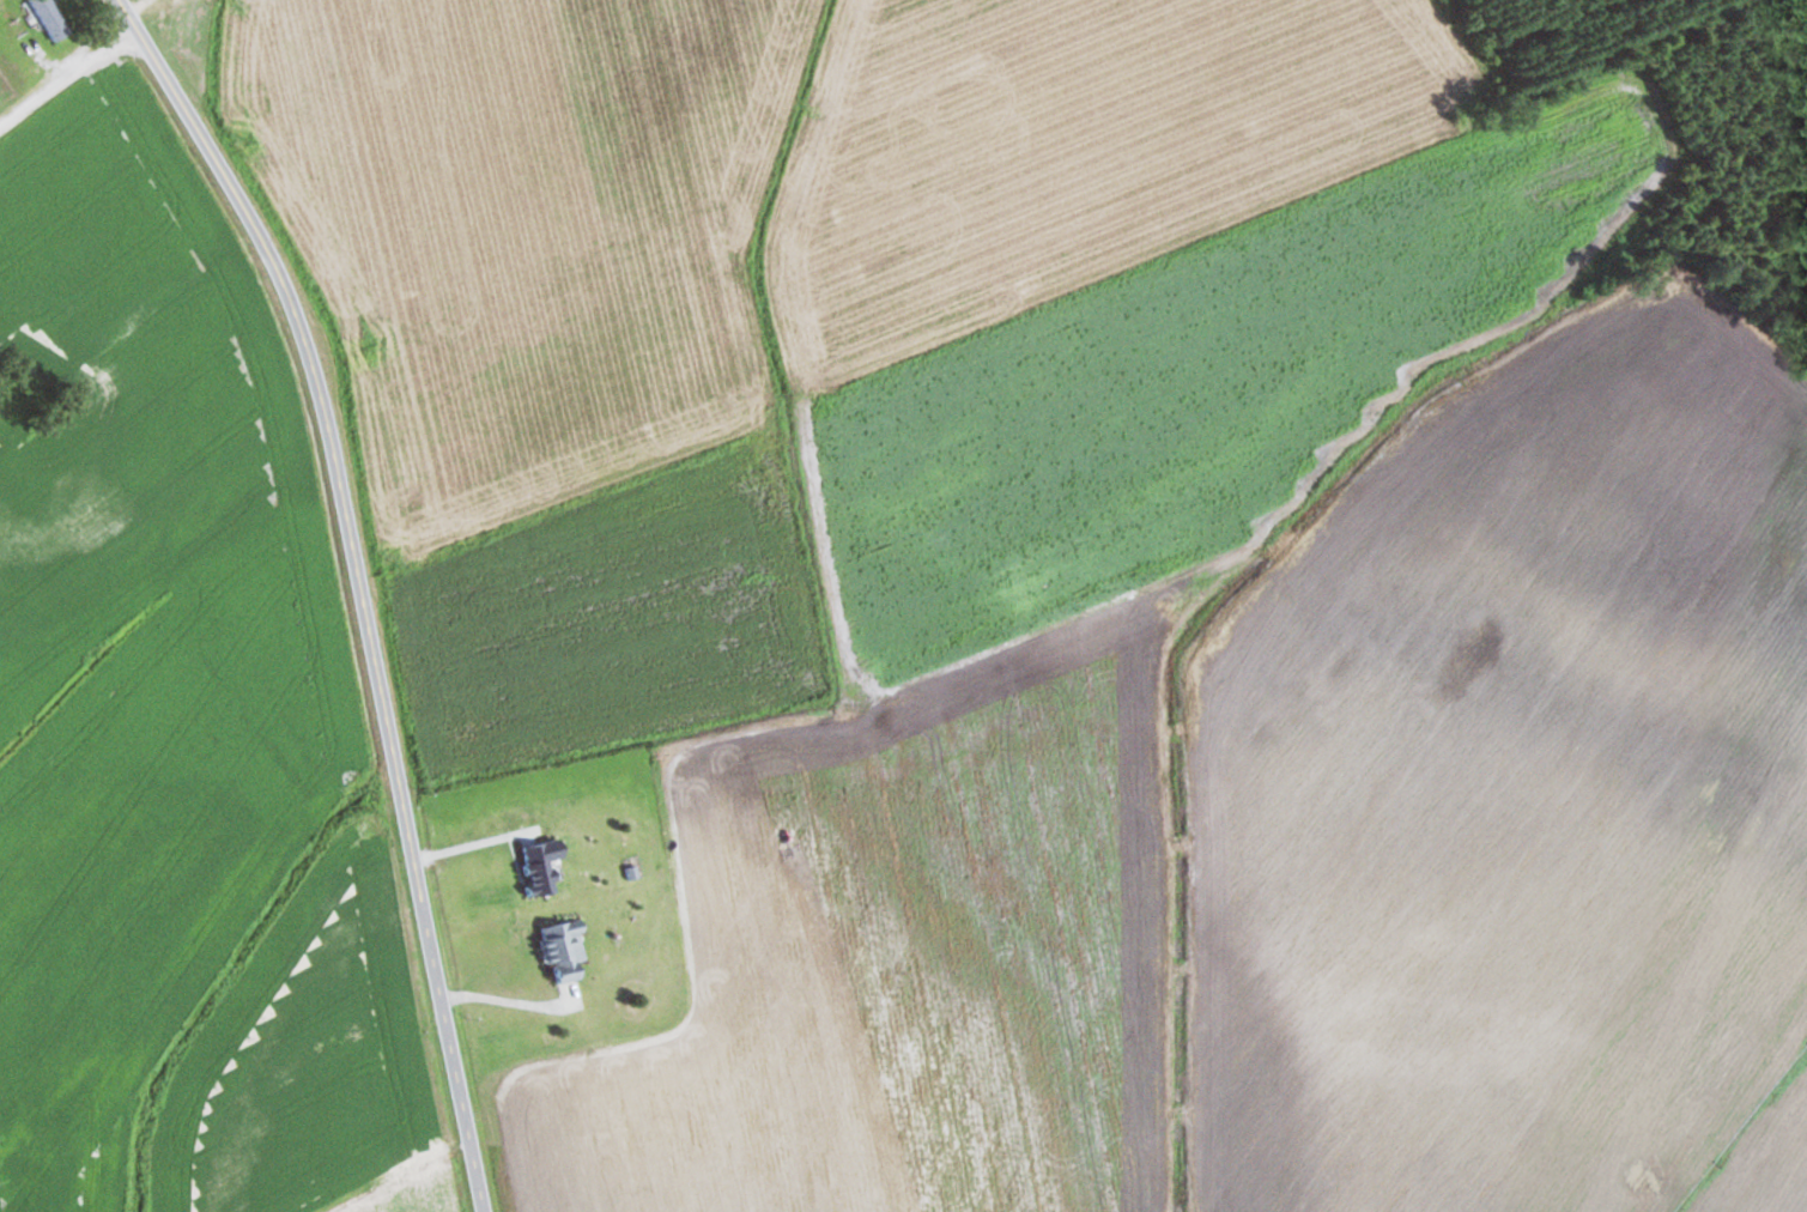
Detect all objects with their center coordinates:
building: (53, 19)
road: (63, 67)
road: (359, 584)
building: (541, 867)
building: (566, 950)

